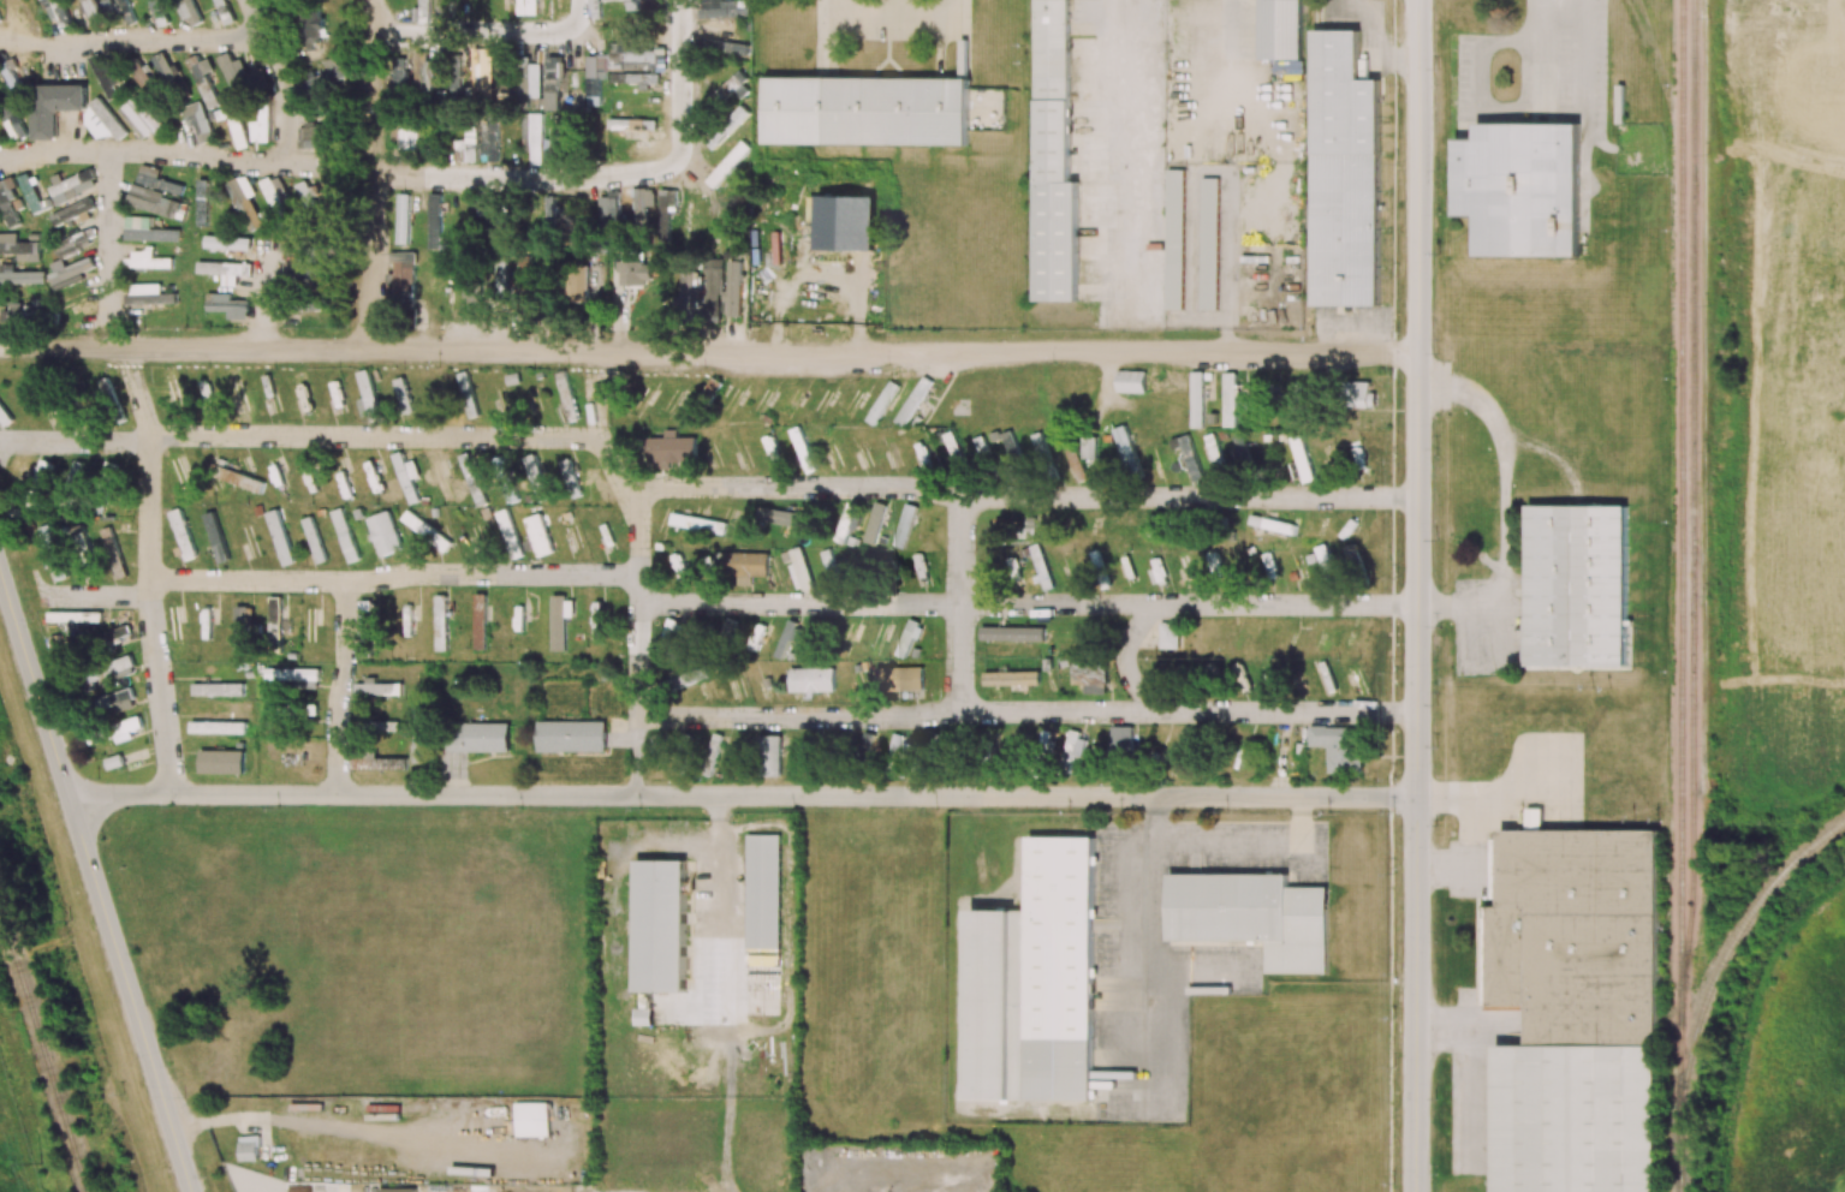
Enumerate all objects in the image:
building: (608, 0)
building: (642, 5)
building: (445, 7)
building: (528, 7)
building: (595, 7)
building: (56, 11)
building: (125, 11)
building: (225, 11)
building: (94, 12)
building: (159, 12)
building: (190, 12)
building: (422, 12)
road: (249, 19)
building: (314, 25)
building: (1280, 29)
road: (482, 32)
road: (129, 38)
road: (1233, 54)
building: (637, 60)
building: (165, 68)
building: (413, 71)
building: (234, 72)
building: (139, 73)
building: (105, 74)
building: (456, 76)
building: (523, 77)
building: (323, 78)
building: (595, 78)
building: (635, 78)
building: (203, 79)
building: (553, 81)
building: (490, 87)
building: (728, 88)
building: (55, 107)
building: (867, 111)
building: (142, 118)
building: (11, 119)
building: (231, 119)
building: (101, 120)
building: (727, 127)
building: (260, 129)
building: (626, 129)
building: (489, 133)
building: (555, 133)
building: (409, 135)
building: (315, 137)
building: (532, 137)
building: (468, 147)
road: (203, 155)
building: (1054, 156)
road: (602, 174)
building: (1345, 174)
road: (367, 175)
building: (157, 180)
building: (73, 186)
building: (1522, 187)
building: (31, 192)
building: (275, 196)
building: (308, 198)
building: (245, 201)
building: (8, 202)
building: (153, 202)
building: (202, 202)
building: (609, 209)
building: (72, 210)
building: (492, 210)
building: (435, 223)
road: (111, 226)
building: (148, 231)
building: (1174, 239)
building: (73, 243)
building: (227, 244)
building: (1209, 244)
building: (19, 248)
building: (147, 260)
building: (523, 266)
building: (225, 268)
building: (404, 269)
building: (636, 273)
building: (70, 274)
building: (18, 275)
building: (300, 275)
building: (500, 284)
building: (577, 284)
building: (713, 286)
building: (734, 287)
building: (148, 294)
road: (264, 298)
building: (475, 300)
building: (227, 305)
road: (708, 354)
building: (1130, 381)
building: (106, 388)
building: (466, 391)
building: (174, 392)
building: (239, 394)
building: (403, 394)
building: (566, 394)
building: (1363, 394)
building: (304, 395)
building: (367, 397)
building: (1196, 399)
building: (1230, 399)
building: (913, 400)
building: (882, 403)
road: (595, 410)
building: (58, 413)
building: (4, 416)
road: (369, 436)
building: (831, 441)
building: (1089, 446)
building: (1239, 448)
building: (669, 449)
building: (803, 449)
building: (1012, 451)
building: (1126, 452)
building: (1215, 454)
building: (1186, 457)
building: (1299, 460)
building: (1077, 465)
building: (43, 469)
building: (566, 469)
building: (109, 470)
road: (150, 472)
building: (75, 476)
building: (179, 476)
building: (407, 477)
building: (439, 477)
building: (506, 477)
building: (536, 477)
building: (472, 478)
building: (249, 482)
road: (1018, 494)
railway: (1682, 495)
road: (1502, 501)
building: (781, 517)
building: (847, 521)
building: (697, 523)
building: (874, 523)
building: (1272, 524)
building: (905, 525)
building: (1000, 525)
building: (425, 531)
building: (183, 534)
building: (385, 534)
building: (345, 535)
building: (538, 535)
building: (216, 536)
building: (280, 537)
building: (47, 538)
building: (315, 540)
building: (1325, 560)
building: (829, 564)
building: (745, 566)
building: (1041, 566)
building: (58, 567)
building: (919, 568)
building: (799, 570)
building: (1577, 586)
road: (148, 589)
road: (96, 592)
road: (1417, 596)
railway: (1692, 596)
road: (959, 601)
road: (1028, 601)
building: (275, 615)
building: (75, 616)
building: (560, 620)
building: (243, 621)
building: (480, 621)
building: (440, 622)
building: (173, 624)
building: (368, 625)
building: (730, 626)
building: (1012, 633)
building: (114, 634)
building: (790, 634)
building: (1168, 634)
building: (756, 636)
building: (909, 637)
building: (666, 638)
road: (1129, 661)
building: (115, 666)
building: (291, 675)
building: (899, 678)
building: (1011, 678)
building: (1090, 678)
building: (683, 679)
building: (811, 679)
building: (234, 689)
building: (377, 689)
building: (118, 701)
road: (1351, 710)
road: (638, 715)
building: (216, 726)
building: (386, 726)
building: (125, 728)
building: (95, 735)
building: (419, 735)
building: (571, 735)
building: (478, 737)
building: (1119, 739)
building: (1075, 745)
building: (1339, 746)
building: (291, 747)
building: (899, 747)
building: (1184, 752)
road: (1280, 753)
road: (635, 756)
building: (772, 756)
building: (114, 761)
building: (221, 762)
building: (379, 763)
road: (742, 795)
road: (1500, 797)
road: (1248, 847)
road: (1471, 862)
road: (620, 866)
road: (94, 883)
building: (1254, 917)
building: (763, 924)
building: (660, 925)
railway: (1732, 944)
road: (1143, 949)
road: (1195, 977)
building: (1037, 979)
building: (1577, 1009)
road: (1444, 1030)
railway: (43, 1049)
street lamp: (1397, 1065)
road: (1472, 1097)
building: (532, 1119)
road: (333, 1127)
building: (249, 1148)
power tower: (42, 1158)
street lamp: (1436, 1174)
building: (397, 1190)

